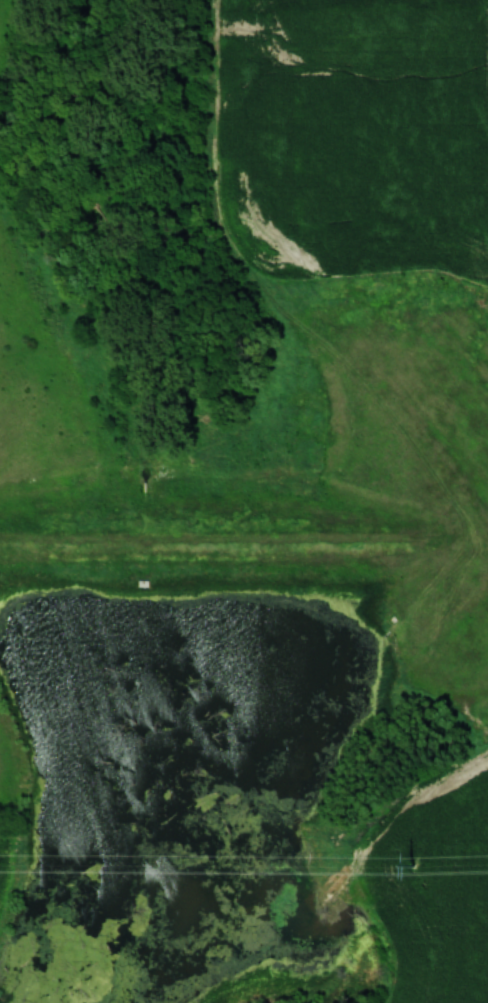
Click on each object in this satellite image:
crop: (354, 135)
dam: (234, 544)
power tower: (411, 863)
crop: (433, 886)

